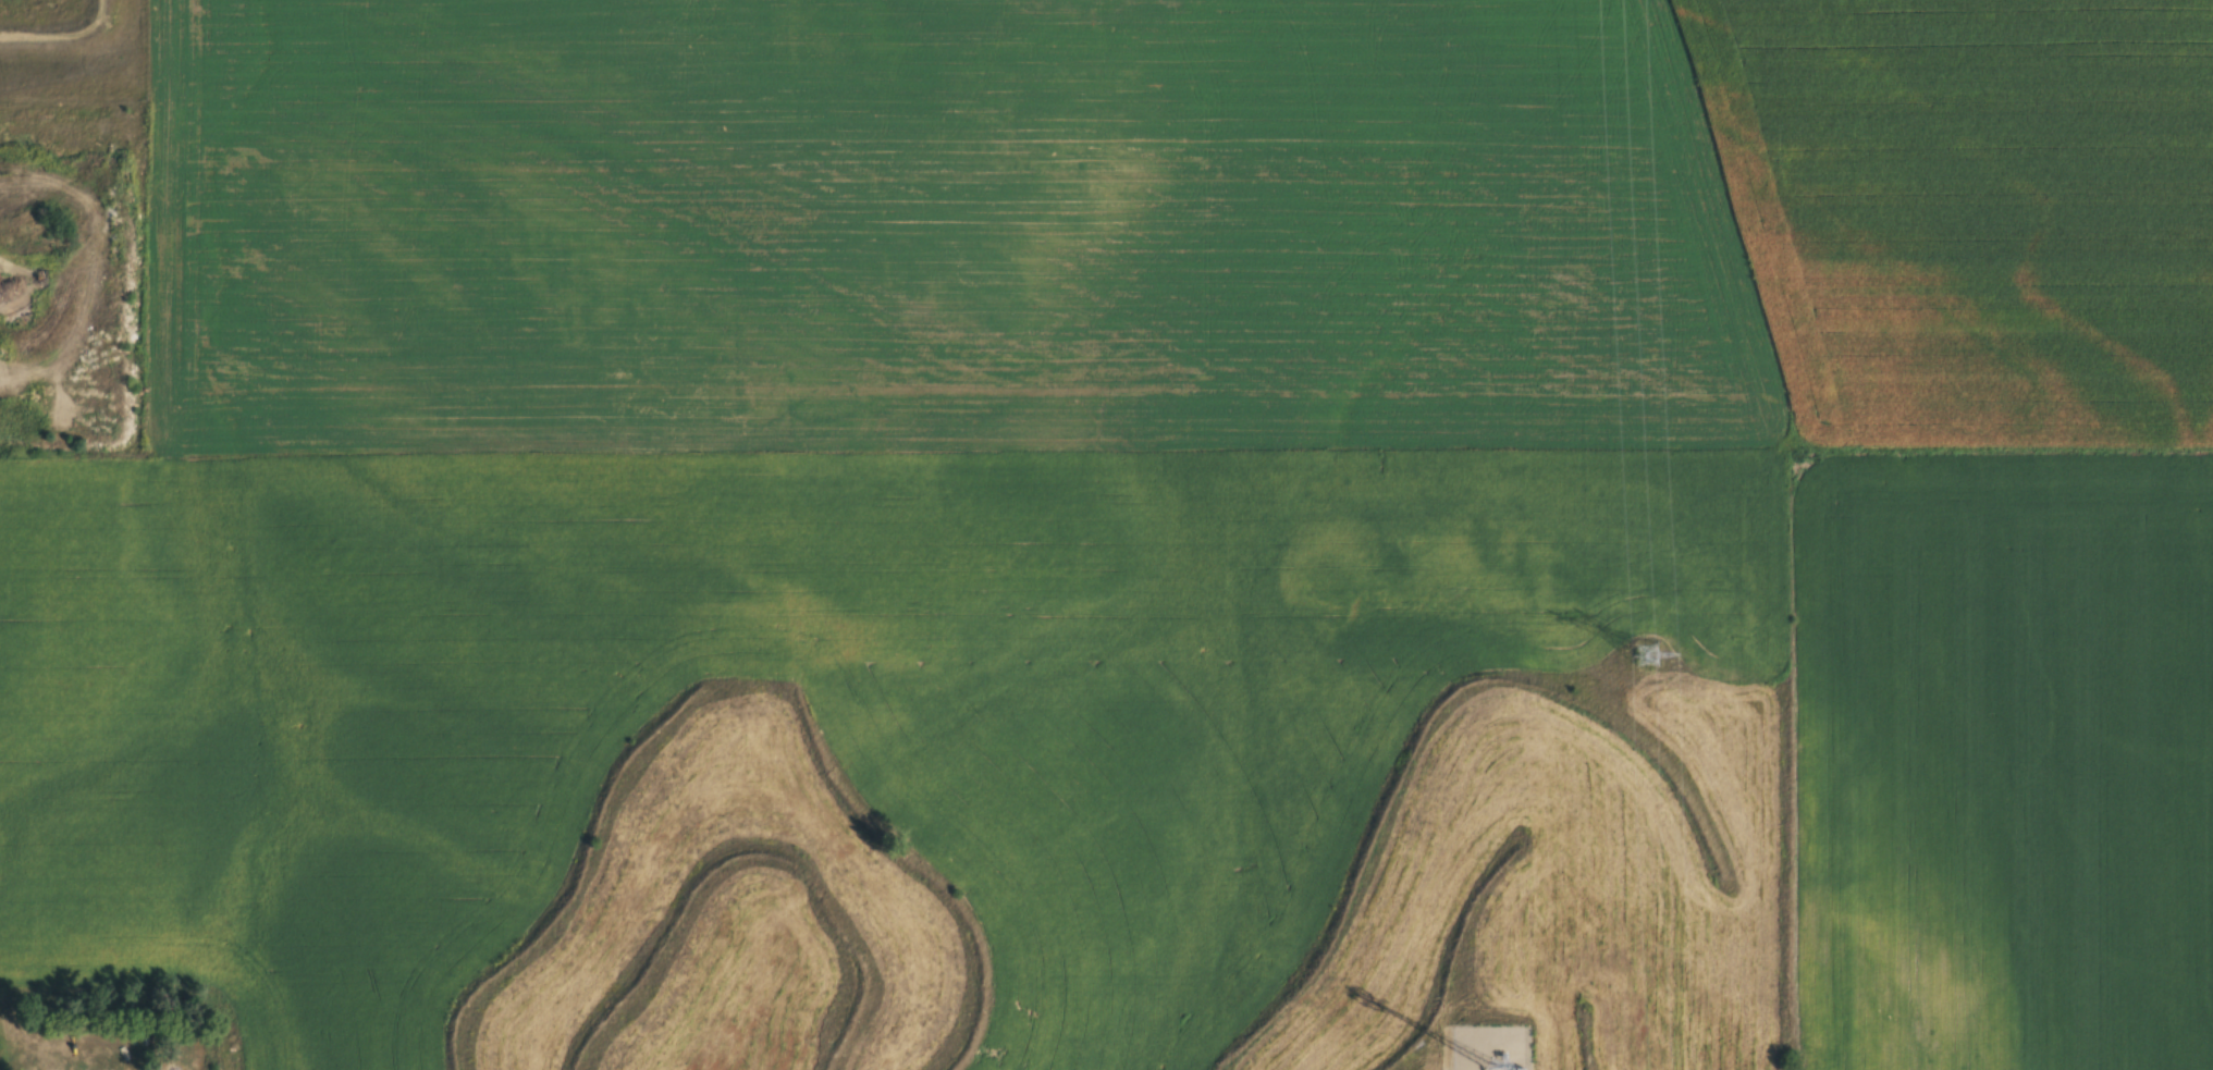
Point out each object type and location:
crop: (1145, 539)
power tower: (1651, 653)

